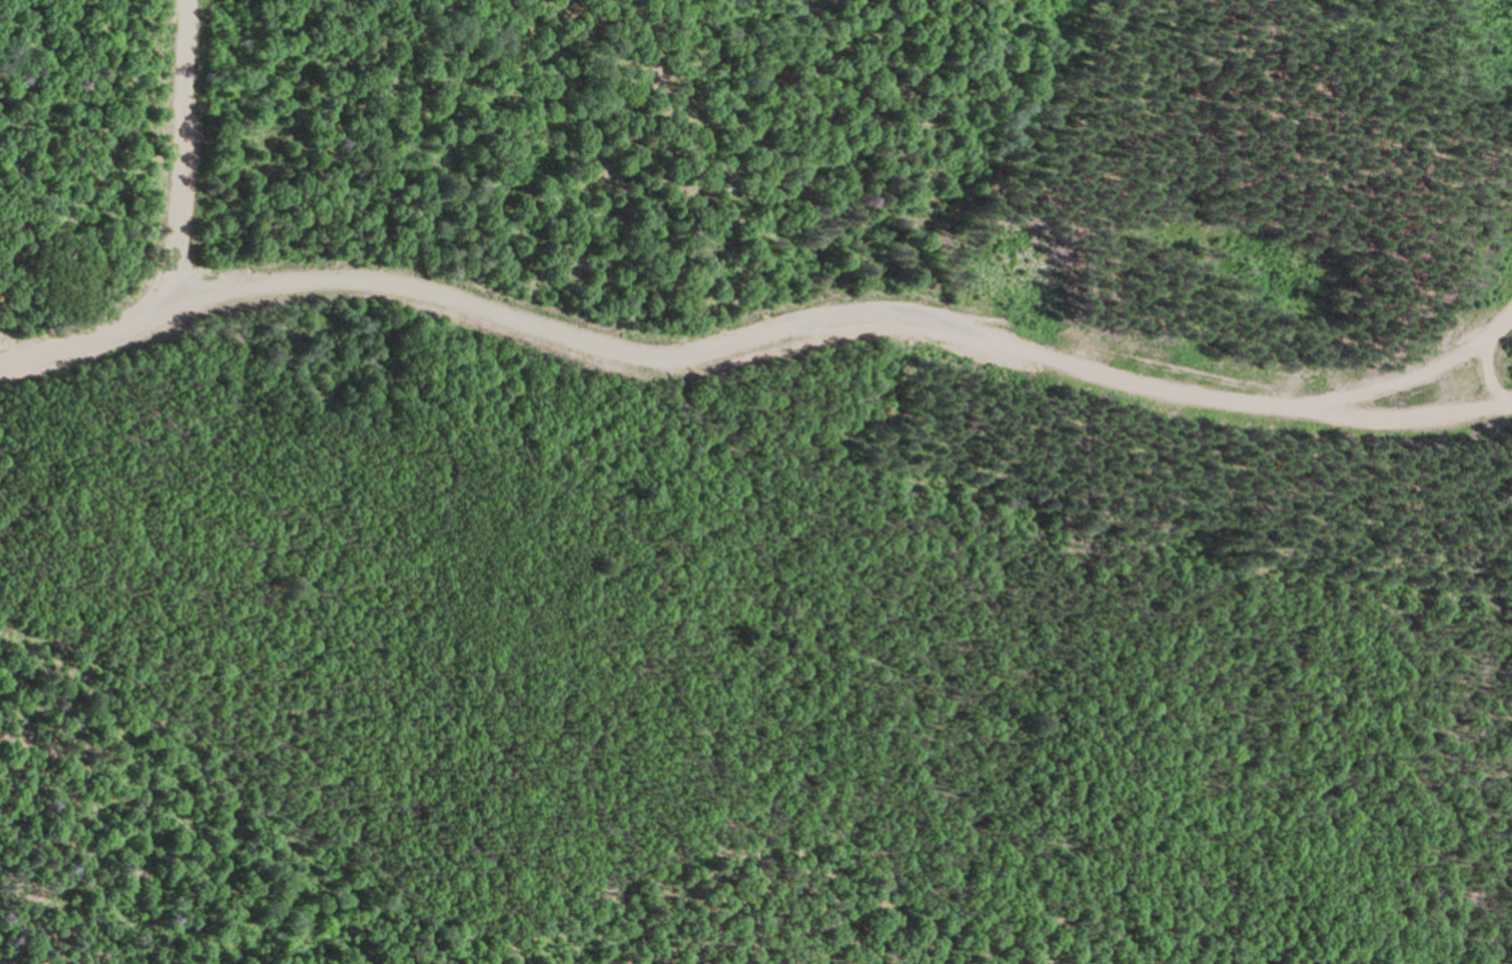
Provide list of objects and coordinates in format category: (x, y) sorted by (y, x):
road: (188, 153)
road: (752, 338)
road: (750, 360)
road: (1489, 373)
road: (1408, 377)

